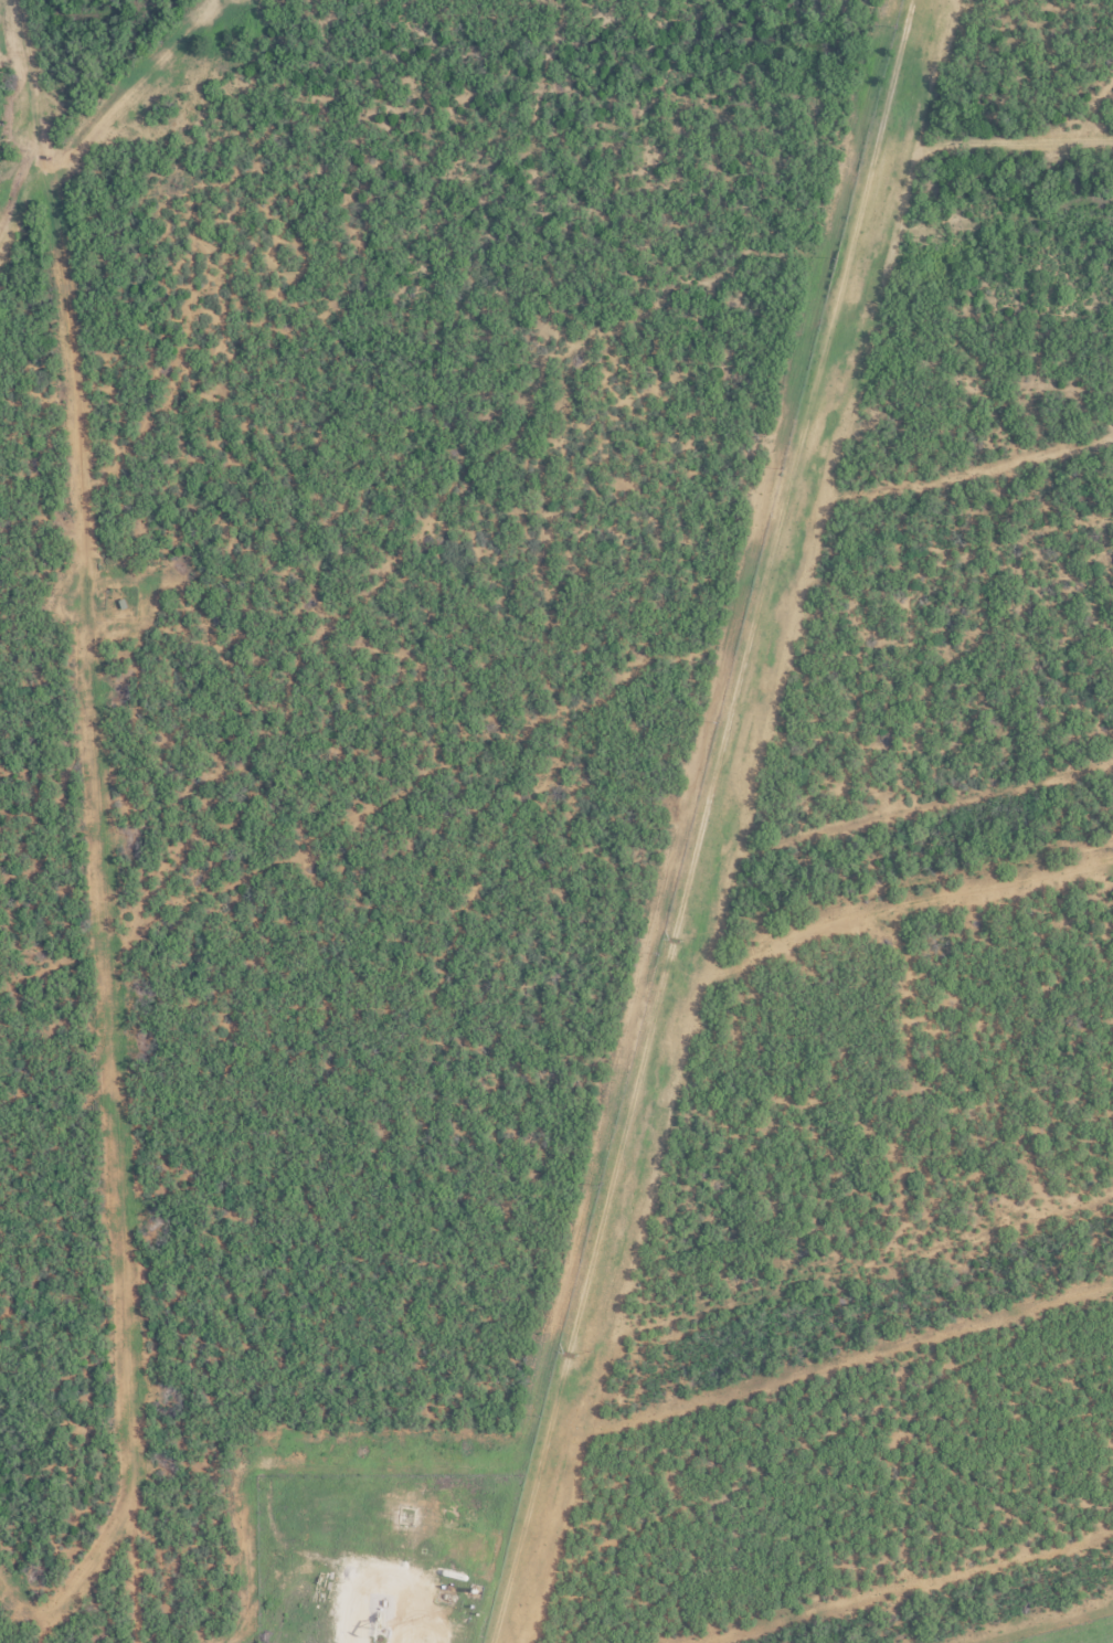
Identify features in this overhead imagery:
road: (155, 84)
road: (43, 86)
road: (589, 171)

